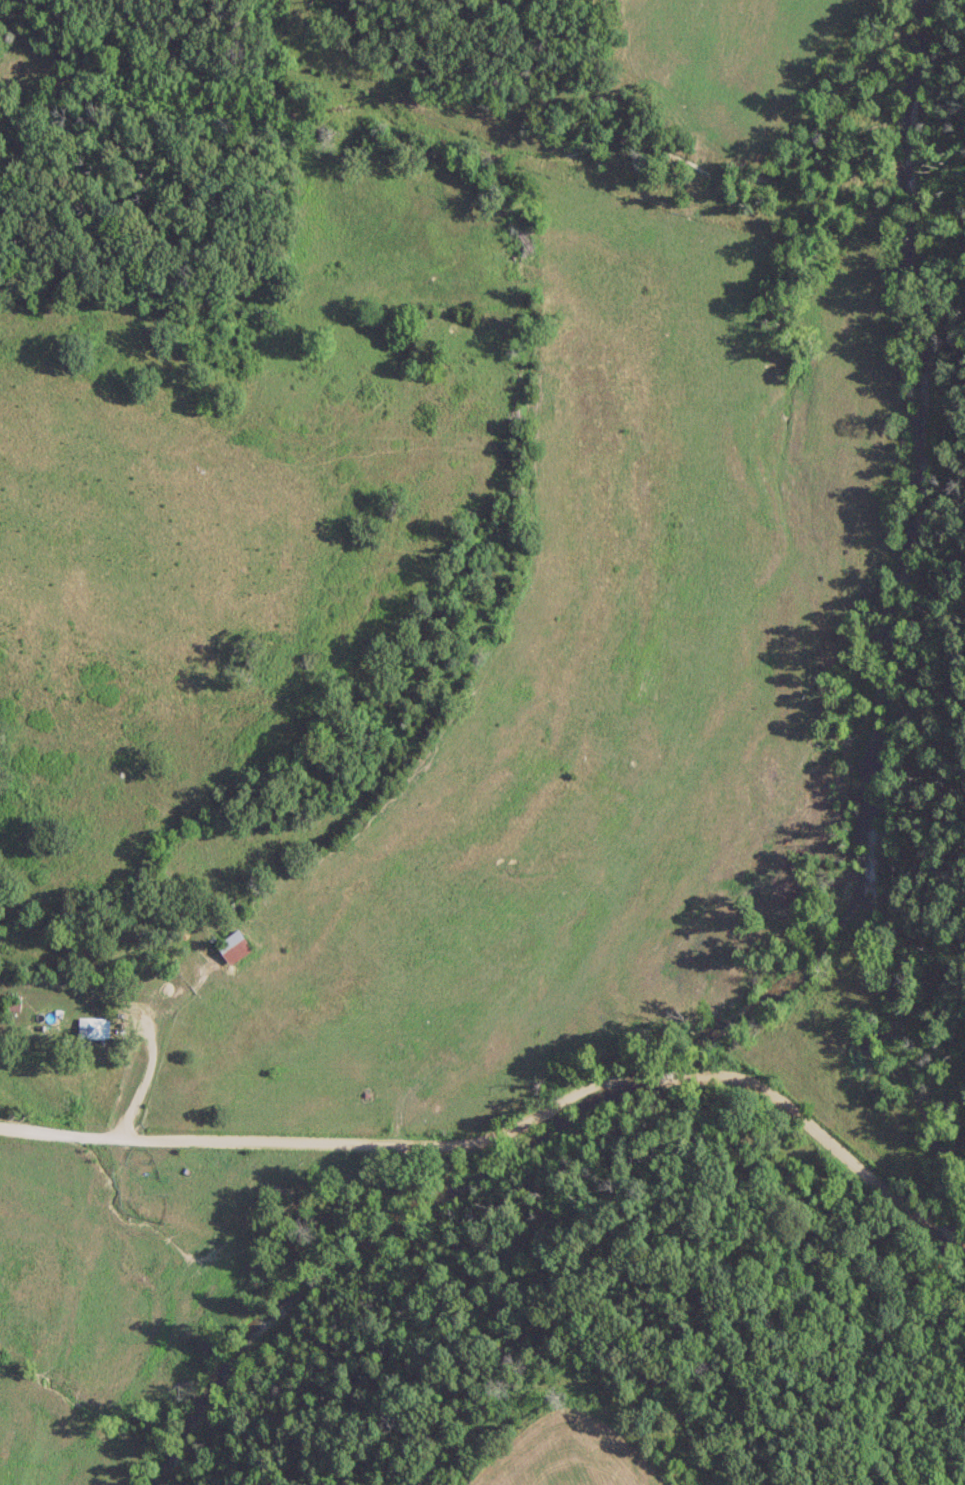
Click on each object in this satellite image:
building: (235, 947)
building: (94, 1027)
road: (516, 1127)

